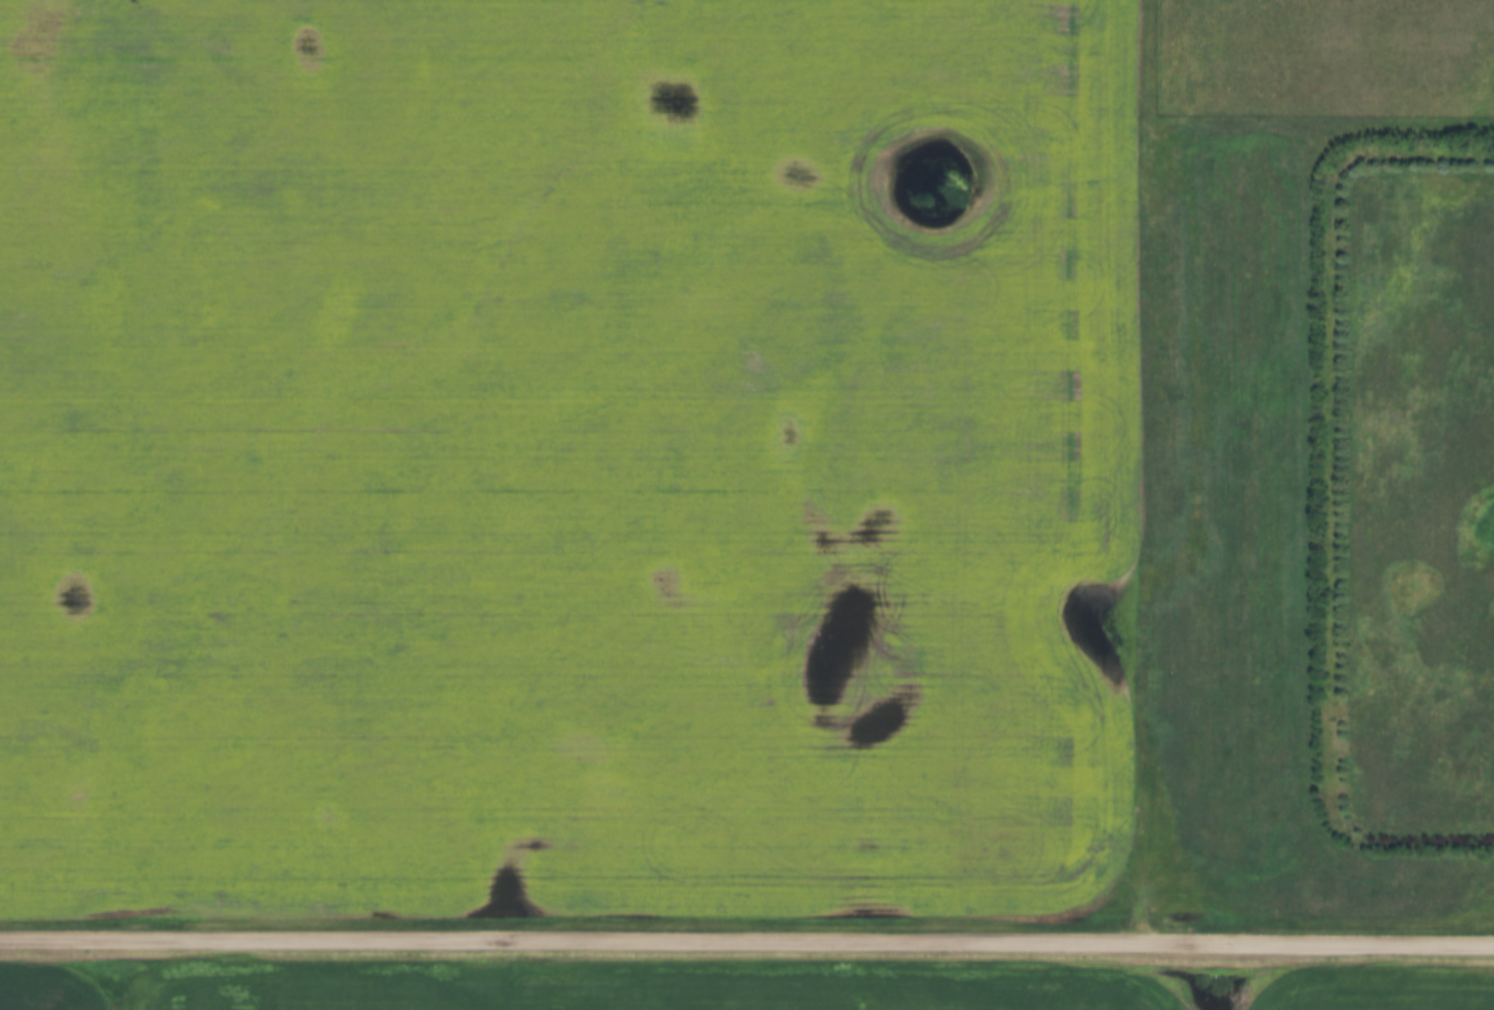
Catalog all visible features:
road: (747, 934)

